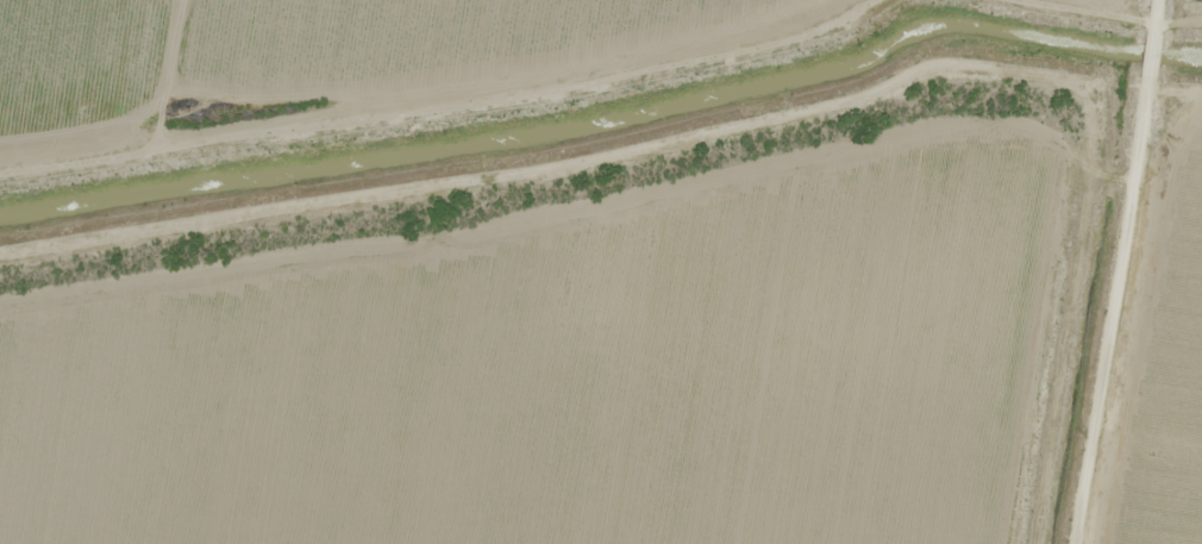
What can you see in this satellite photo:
road: (1140, 271)

